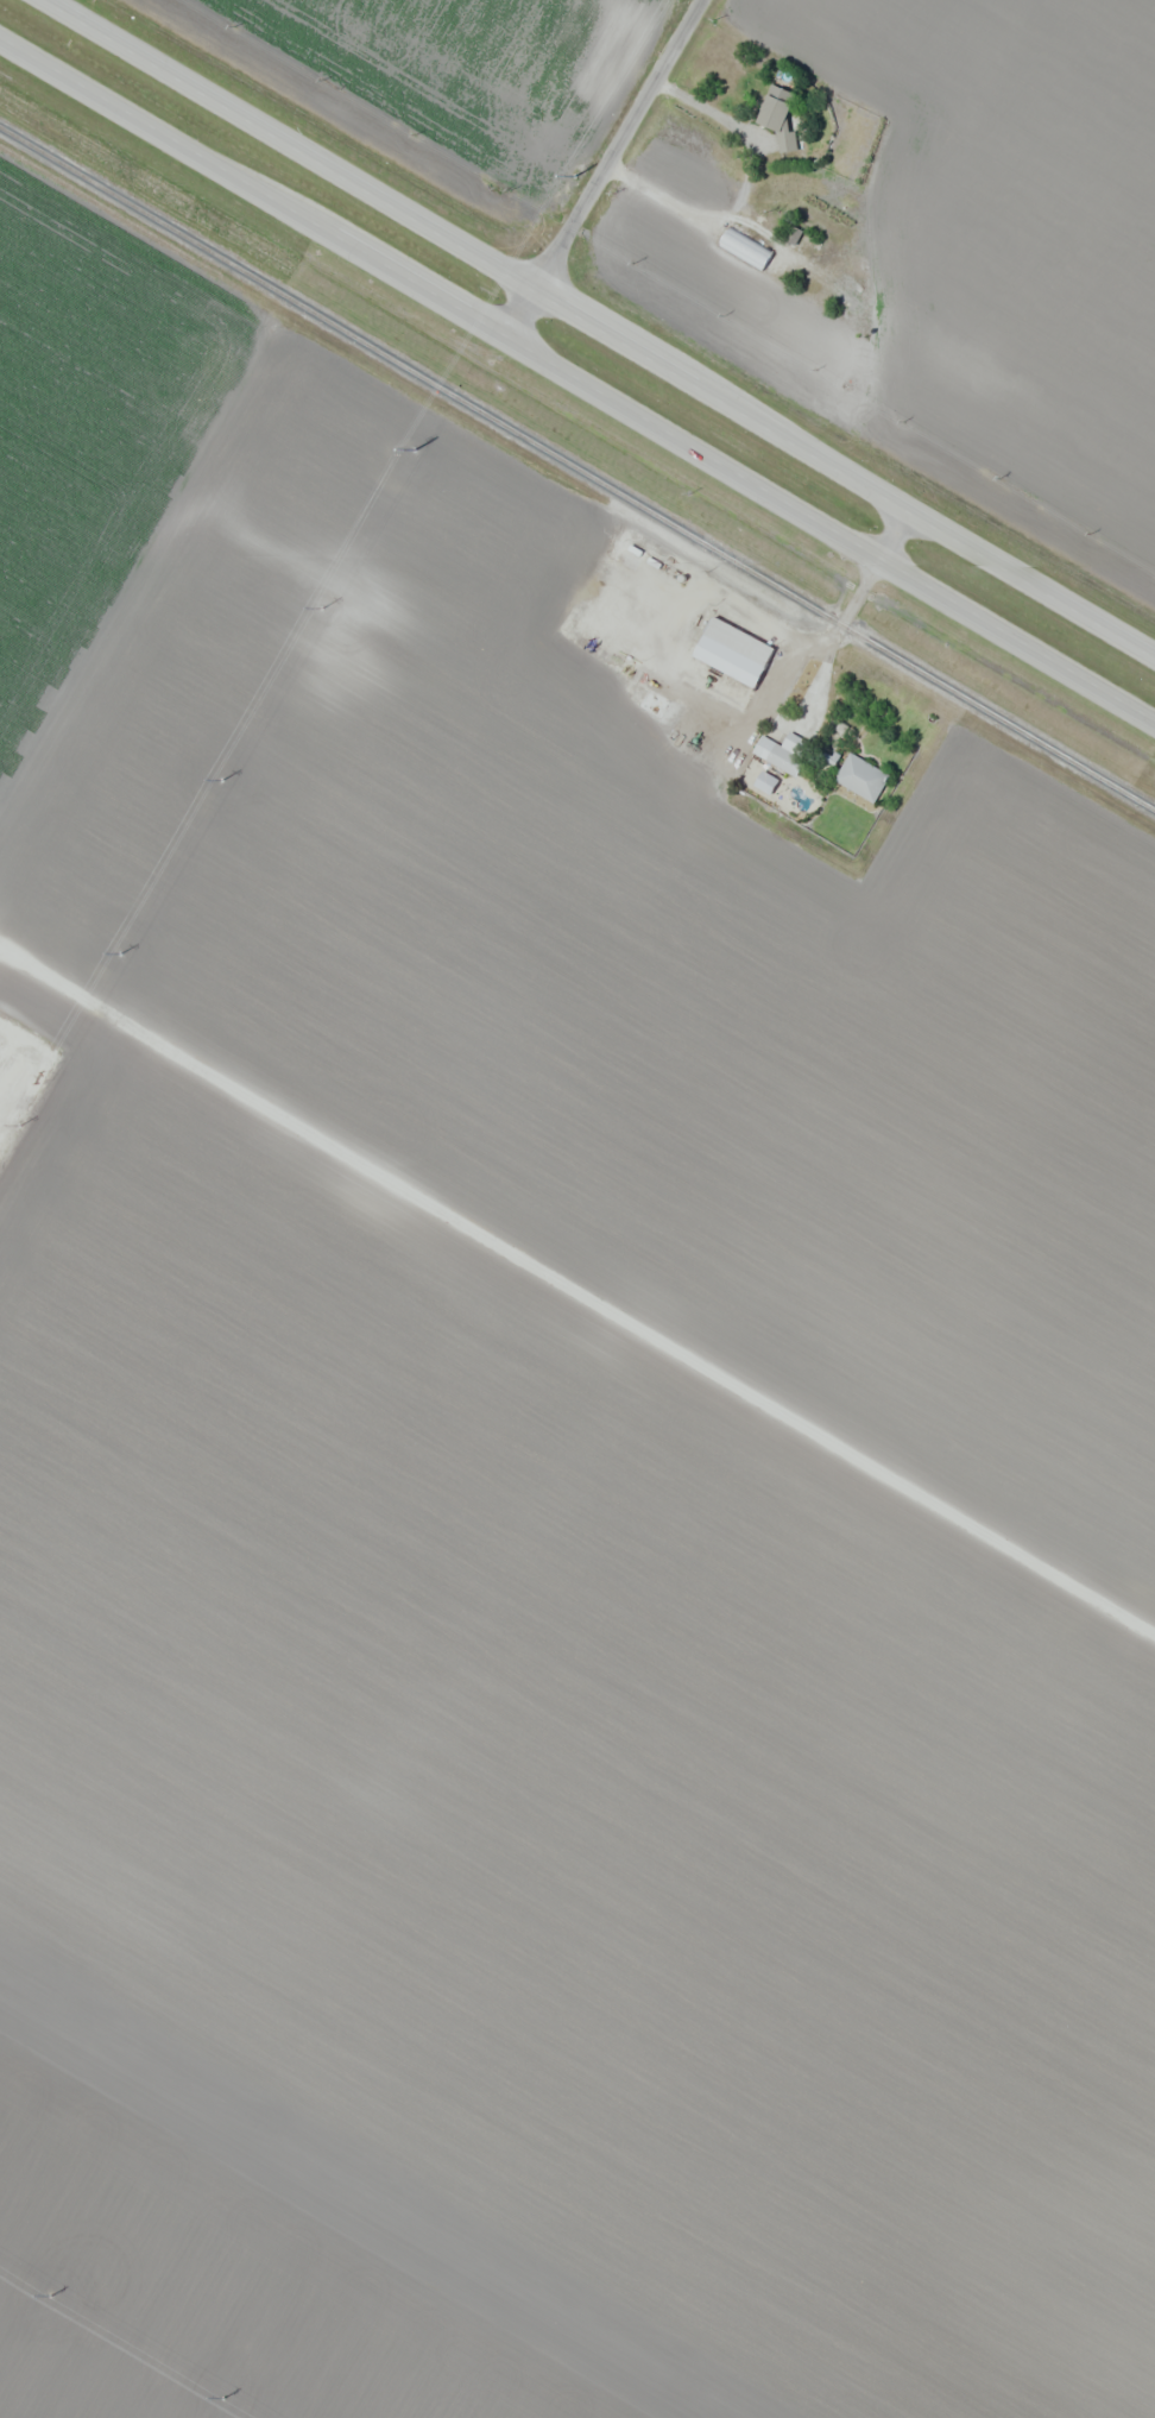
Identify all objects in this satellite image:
building: (770, 115)
road: (601, 165)
building: (745, 248)
road: (624, 308)
road: (577, 377)
railway: (577, 467)
road: (902, 524)
building: (727, 663)
building: (657, 698)
building: (784, 753)
building: (856, 779)
road: (575, 1296)

